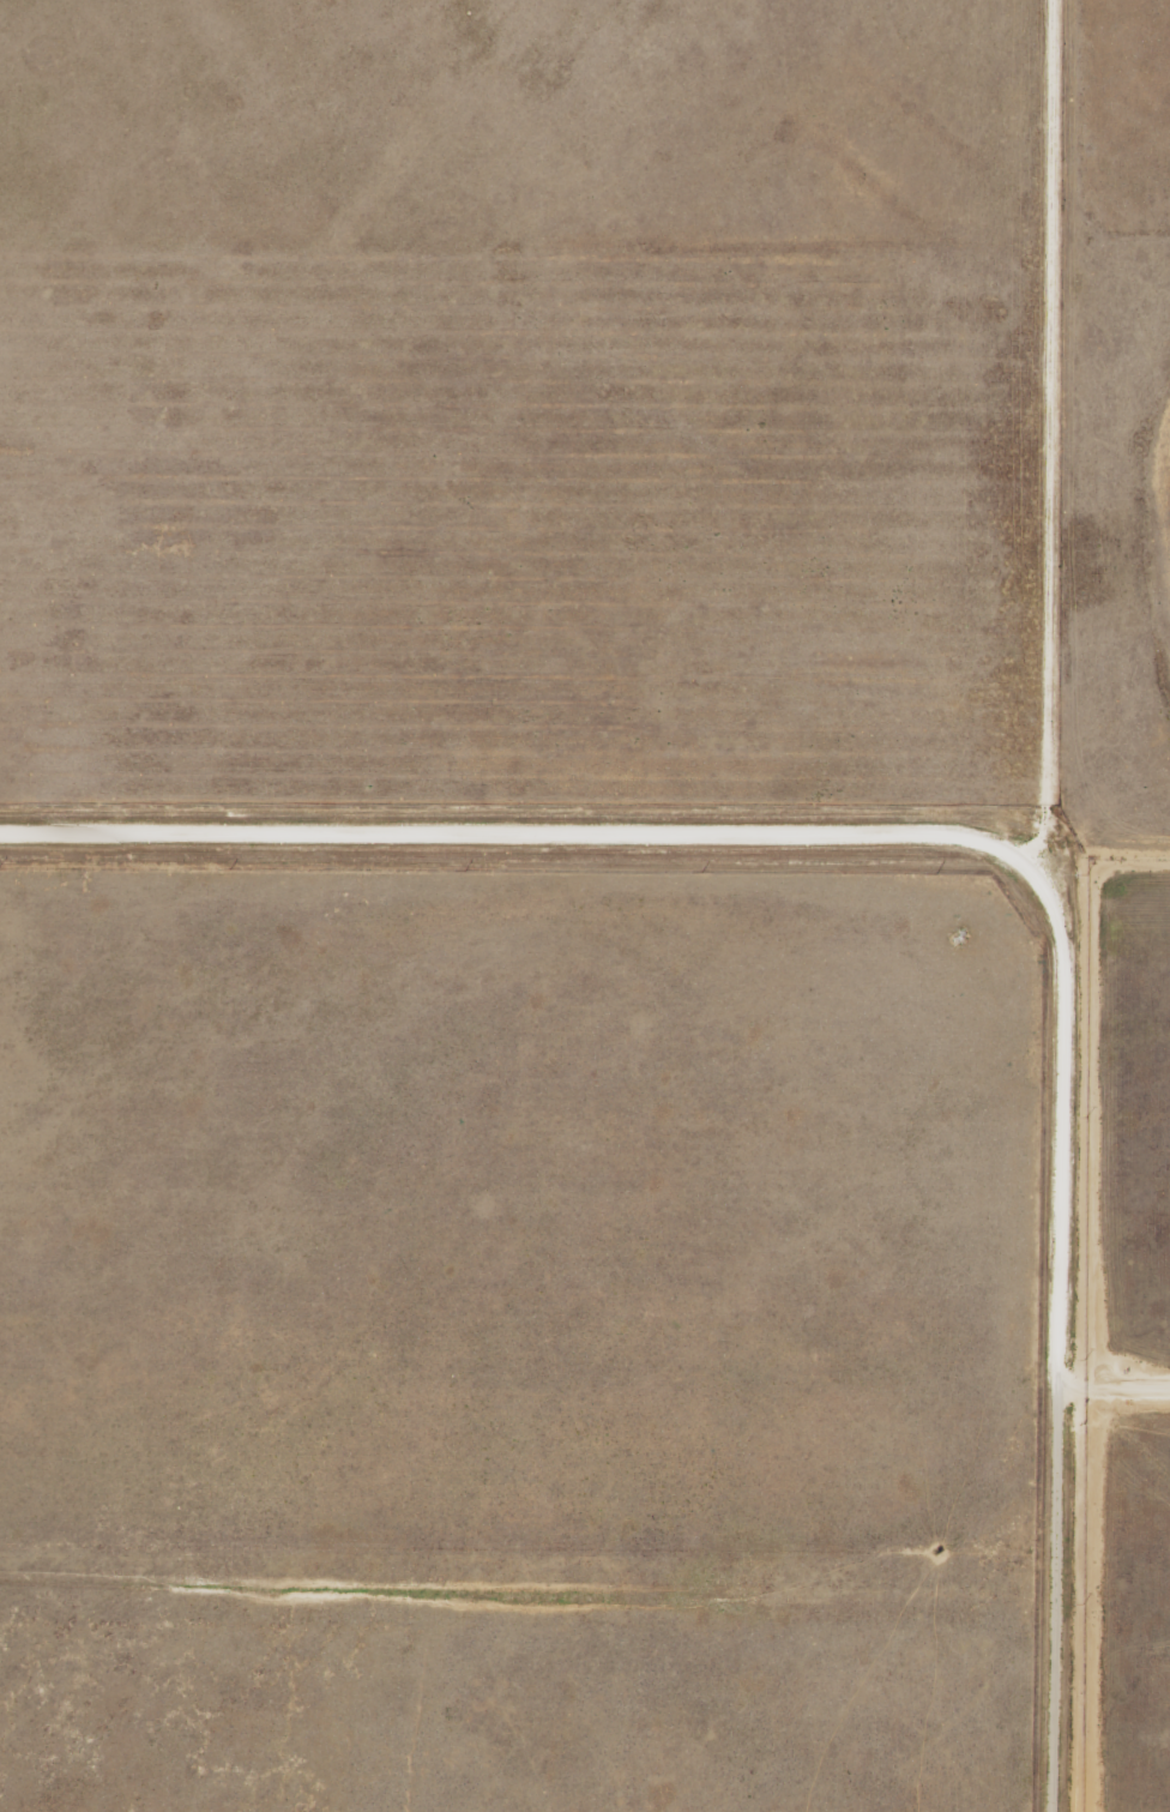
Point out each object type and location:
road: (533, 832)
road: (1063, 1348)

